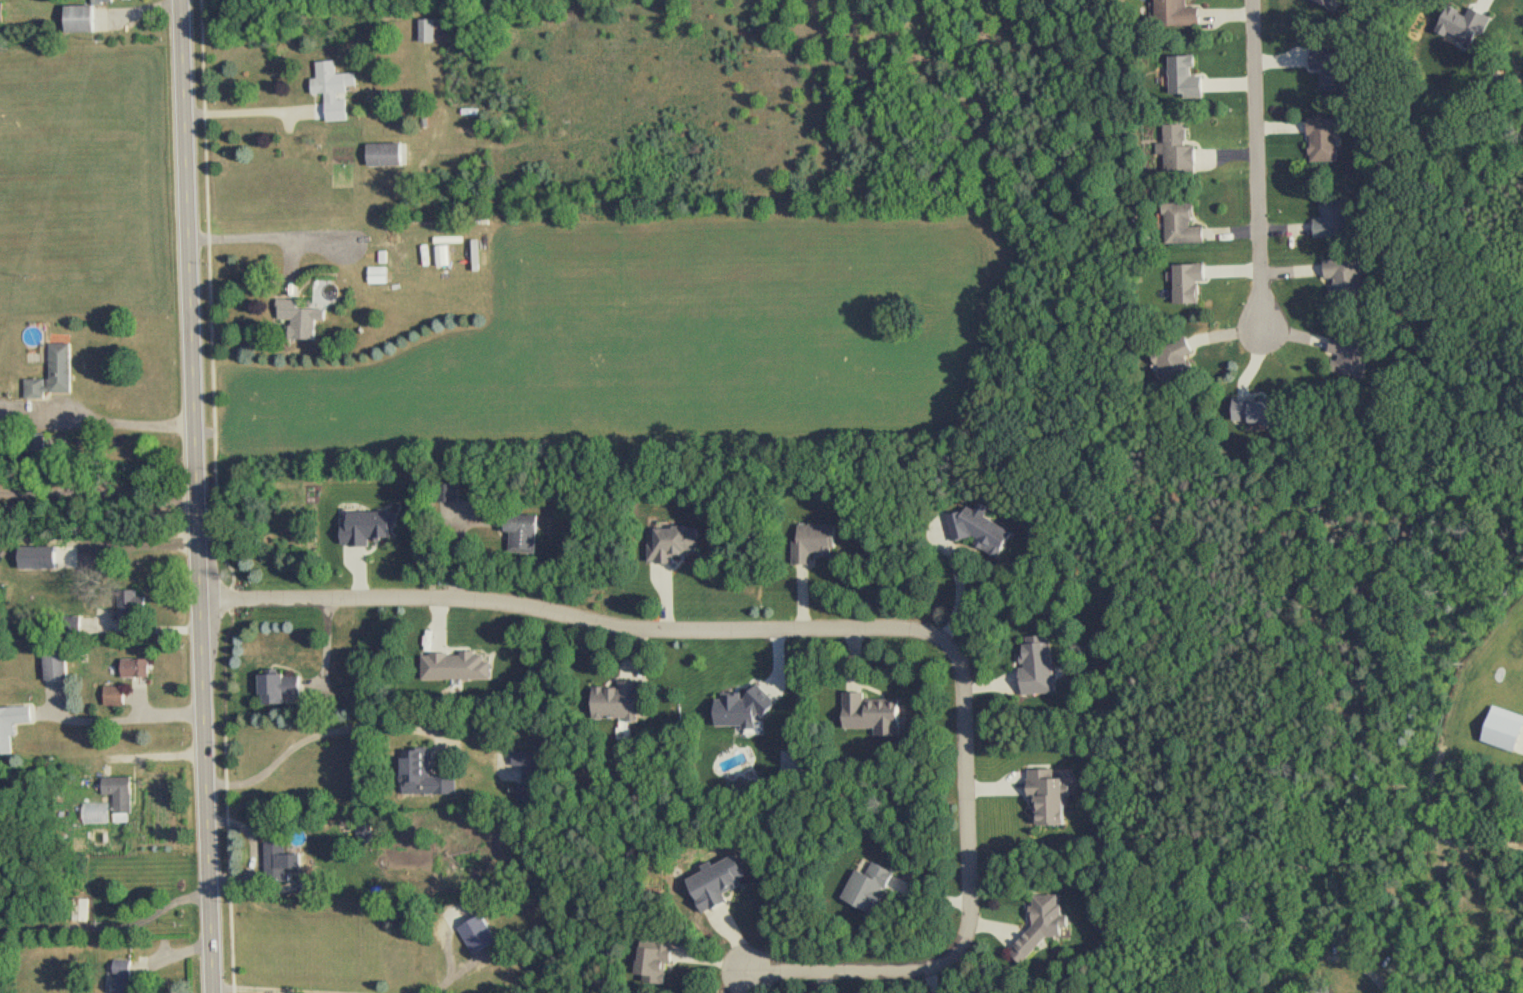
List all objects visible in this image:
building: (107, 1)
building: (1174, 13)
building: (436, 31)
building: (337, 91)
road: (254, 111)
building: (1321, 140)
building: (1177, 151)
building: (389, 156)
road: (1259, 165)
building: (1333, 219)
building: (1180, 225)
road: (245, 240)
building: (444, 257)
building: (1343, 278)
building: (305, 320)
building: (1349, 358)
building: (1173, 363)
road: (100, 412)
road: (102, 491)
building: (447, 492)
road: (202, 496)
building: (978, 532)
building: (521, 534)
building: (672, 544)
building: (811, 544)
road: (141, 547)
building: (131, 603)
road: (580, 616)
road: (328, 644)
building: (454, 667)
building: (134, 670)
building: (278, 689)
building: (618, 701)
building: (870, 715)
road: (132, 721)
building: (15, 728)
road: (322, 732)
building: (422, 776)
building: (530, 776)
building: (118, 797)
building: (1045, 798)
road: (968, 804)
building: (278, 862)
building: (713, 884)
building: (866, 888)
road: (110, 926)
building: (1041, 926)
building: (476, 934)
road: (450, 963)
building: (652, 963)
road: (848, 967)
building: (128, 978)
road: (273, 990)
building: (1320, 990)

